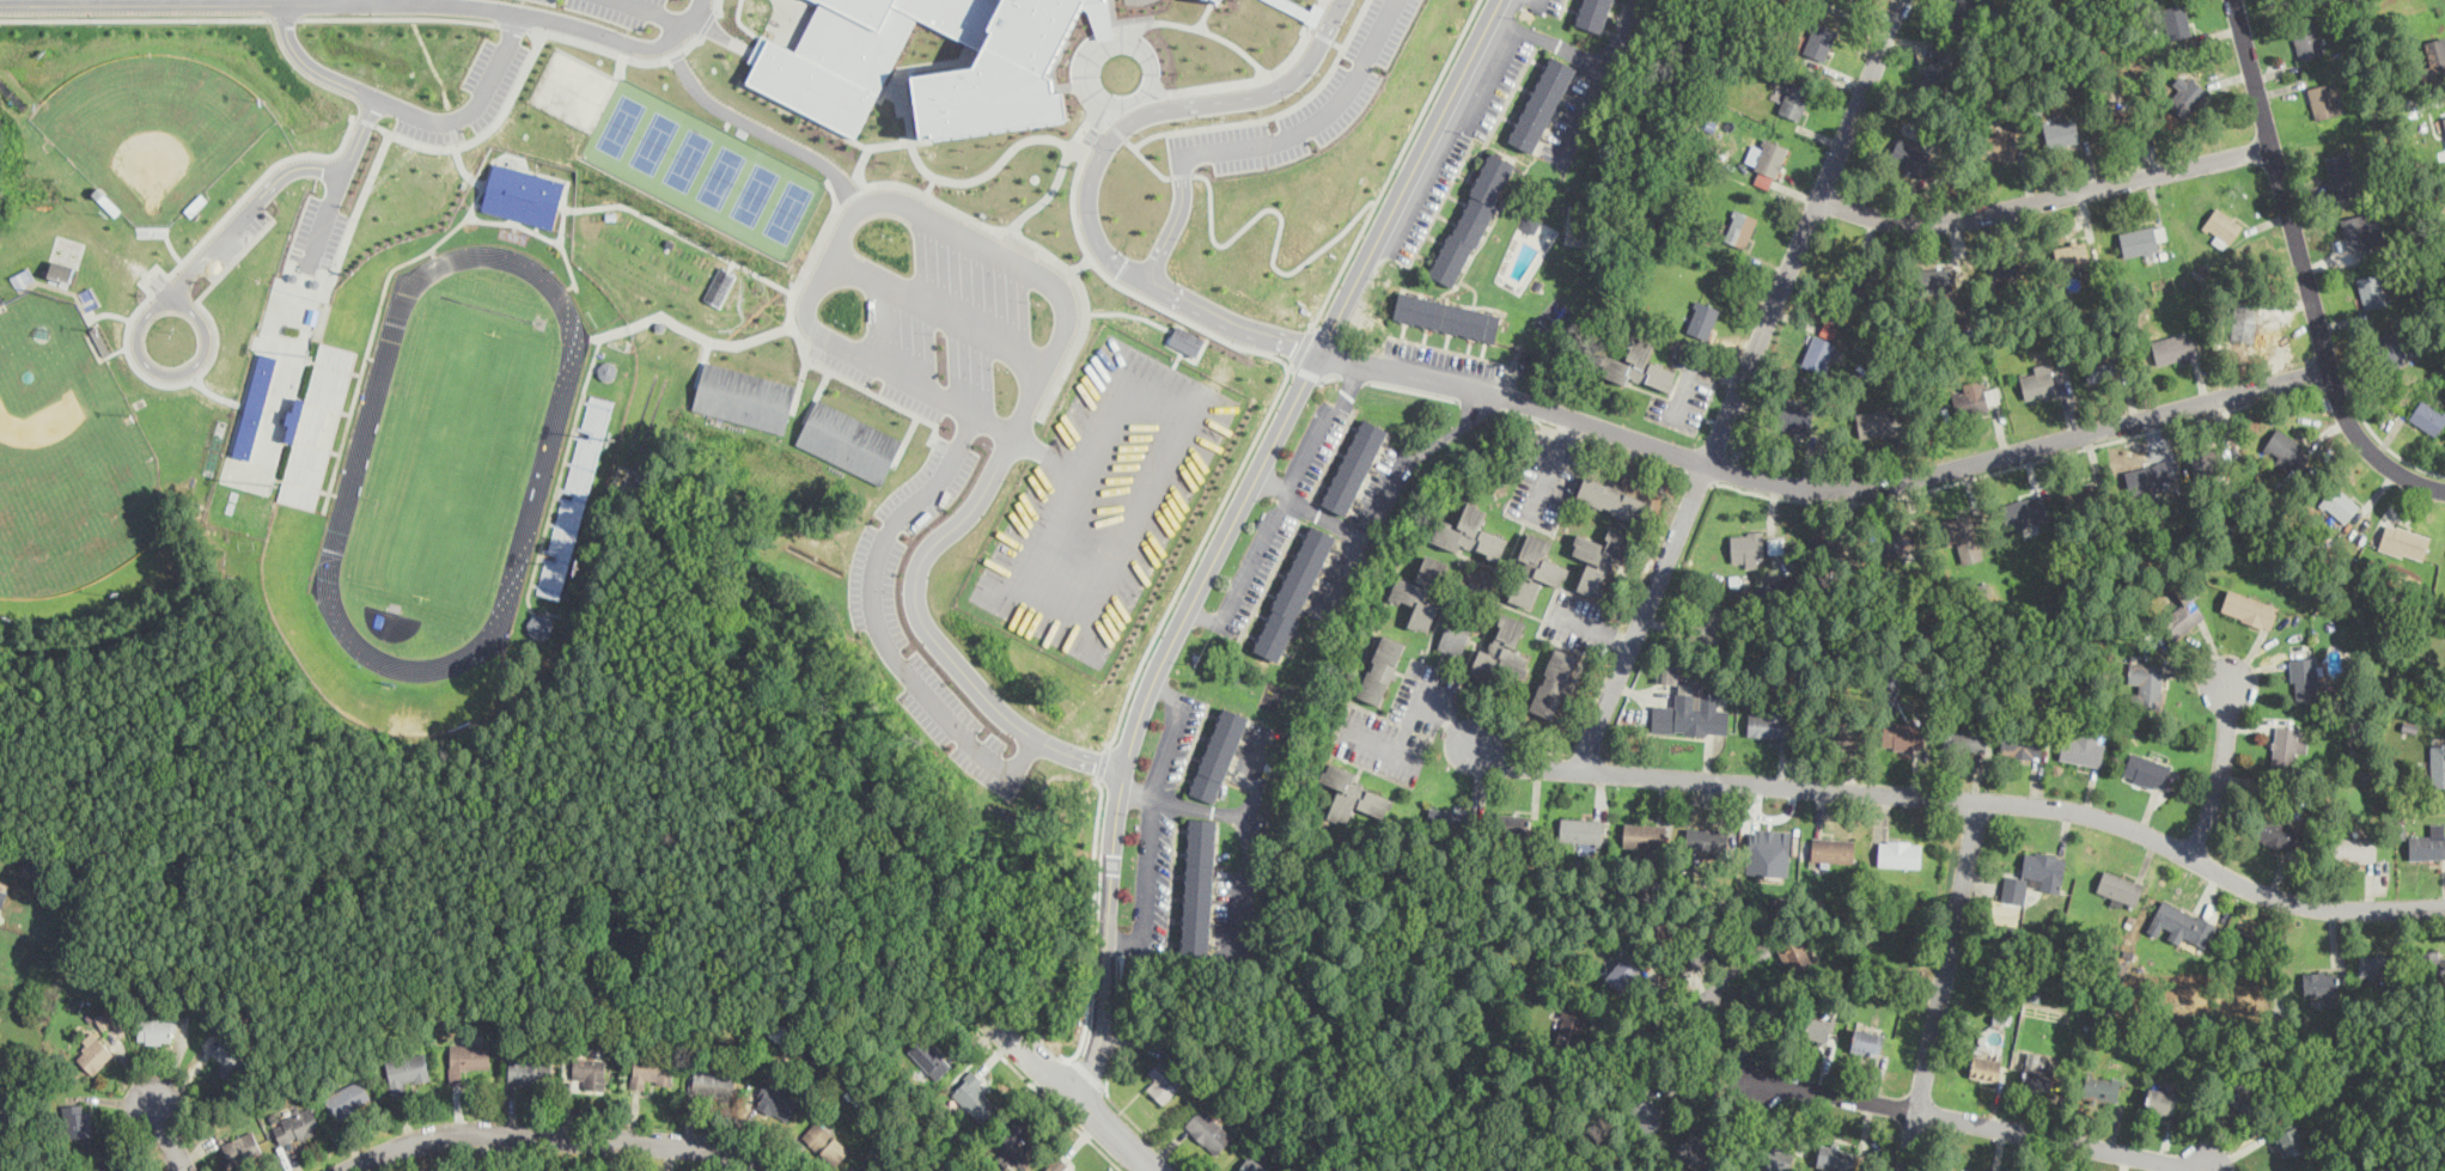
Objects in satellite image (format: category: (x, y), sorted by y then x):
building: (1090, 0)
road: (356, 1)
road: (365, 2)
road: (660, 11)
building: (1963, 13)
building: (1591, 14)
road: (286, 17)
road: (400, 17)
road: (135, 18)
building: (2176, 19)
building: (2306, 38)
road: (1549, 41)
building: (1819, 41)
building: (859, 53)
building: (2434, 57)
building: (1937, 69)
building: (1001, 73)
road: (1600, 79)
road: (1154, 93)
building: (2190, 96)
building: (1793, 98)
building: (2323, 98)
building: (1541, 100)
road: (1175, 106)
road: (408, 108)
road: (1276, 114)
building: (2122, 116)
road: (1316, 117)
building: (2444, 117)
park: (618, 124)
road: (1115, 126)
road: (757, 128)
park: (152, 129)
building: (2061, 132)
park: (653, 142)
building: (1995, 146)
building: (1912, 155)
building: (1772, 157)
park: (689, 159)
road: (1146, 159)
road: (1395, 163)
road: (1181, 173)
building: (2341, 173)
road: (340, 177)
park: (721, 177)
building: (523, 194)
park: (754, 194)
road: (2044, 199)
road: (246, 209)
park: (787, 211)
building: (1473, 218)
road: (1175, 220)
building: (1530, 222)
road: (1280, 224)
building: (2221, 224)
building: (1740, 227)
building: (2356, 230)
building: (2141, 238)
building: (2071, 255)
building: (61, 269)
road: (2303, 269)
building: (2005, 272)
building: (1934, 279)
building: (1537, 282)
building: (720, 286)
building: (1859, 288)
road: (1128, 289)
building: (2371, 289)
track: (403, 291)
building: (2245, 309)
parking lot: (938, 312)
road: (938, 312)
road: (1066, 312)
building: (1441, 313)
road: (1217, 317)
building: (1702, 318)
building: (1187, 340)
road: (1303, 347)
building: (2175, 347)
building: (2385, 348)
building: (1821, 352)
building: (1638, 365)
road: (1691, 366)
building: (2099, 368)
road: (173, 371)
road: (1307, 372)
road: (1328, 376)
road: (1353, 378)
building: (2037, 380)
road: (1739, 383)
road: (1411, 389)
road: (1348, 390)
building: (740, 391)
building: (1967, 398)
road: (2339, 400)
road: (1478, 402)
building: (255, 404)
building: (2428, 415)
building: (1794, 416)
building: (1877, 421)
road: (1569, 427)
road: (1453, 429)
building: (845, 439)
road: (1592, 439)
road: (2386, 445)
road: (1038, 450)
building: (2286, 450)
park: (68, 453)
track: (450, 461)
building: (2206, 462)
park: (457, 463)
building: (1348, 463)
road: (2026, 463)
road: (1548, 476)
road: (1699, 476)
building: (2148, 477)
road: (1823, 488)
building: (2085, 494)
building: (1615, 499)
parking lot: (1103, 500)
building: (2339, 502)
road: (1310, 510)
building: (2025, 511)
road: (1275, 518)
road: (1228, 529)
building: (1469, 531)
building: (1958, 531)
road: (1367, 537)
building: (2403, 541)
building: (1894, 543)
building: (1775, 544)
building: (1745, 547)
building: (1828, 548)
road: (1196, 554)
building: (1599, 557)
building: (1537, 569)
building: (1288, 590)
building: (1422, 591)
building: (2249, 608)
building: (2183, 616)
road: (1203, 618)
building: (1708, 622)
building: (541, 623)
road: (878, 626)
road: (1593, 629)
building: (1453, 638)
building: (1501, 651)
building: (1382, 669)
building: (1665, 672)
building: (2305, 677)
building: (1554, 682)
building: (2146, 685)
road: (1423, 691)
building: (1687, 713)
building: (1769, 722)
building: (1842, 730)
building: (1902, 734)
building: (1967, 737)
road: (1385, 744)
building: (2023, 744)
building: (2287, 744)
building: (2083, 746)
building: (1218, 752)
road: (1102, 762)
building: (2438, 764)
road: (2223, 767)
building: (2146, 769)
building: (1352, 793)
road: (1961, 797)
road: (1222, 811)
building: (1447, 818)
road: (1150, 819)
building: (1513, 823)
building: (1583, 832)
building: (2278, 832)
building: (1644, 835)
building: (1707, 838)
building: (2428, 842)
building: (1833, 848)
building: (2354, 848)
building: (1768, 852)
building: (1898, 853)
building: (2034, 874)
road: (1246, 878)
building: (1199, 885)
building: (2120, 888)
building: (2, 896)
road: (1091, 913)
building: (2181, 923)
building: (2444, 945)
building: (1794, 955)
building: (2373, 963)
building: (2432, 963)
building: (1697, 969)
building: (1623, 971)
road: (1941, 984)
building: (2322, 984)
road: (1713, 1008)
road: (1660, 1024)
building: (157, 1027)
building: (1816, 1027)
building: (1568, 1029)
building: (1866, 1041)
building: (94, 1056)
building: (929, 1057)
building: (231, 1059)
building: (467, 1059)
building: (1984, 1066)
building: (531, 1067)
road: (1090, 1067)
building: (653, 1068)
building: (406, 1069)
building: (590, 1071)
building: (2036, 1072)
building: (713, 1081)
building: (1164, 1081)
road: (1701, 1087)
building: (2100, 1087)
road: (1834, 1093)
building: (974, 1096)
road: (1077, 1096)
building: (2245, 1096)
building: (348, 1098)
building: (2160, 1099)
building: (775, 1100)
road: (1050, 1103)
road: (1121, 1108)
building: (1647, 1114)
building: (77, 1120)
building: (295, 1126)
building: (1208, 1130)
road: (166, 1135)
road: (551, 1136)
building: (2292, 1140)
building: (824, 1141)
building: (1014, 1141)
road: (2063, 1142)
building: (242, 1148)
building: (1695, 1151)
building: (1776, 1155)
building: (1835, 1157)
building: (1252, 1165)
building: (1057, 1167)
building: (865, 1169)

